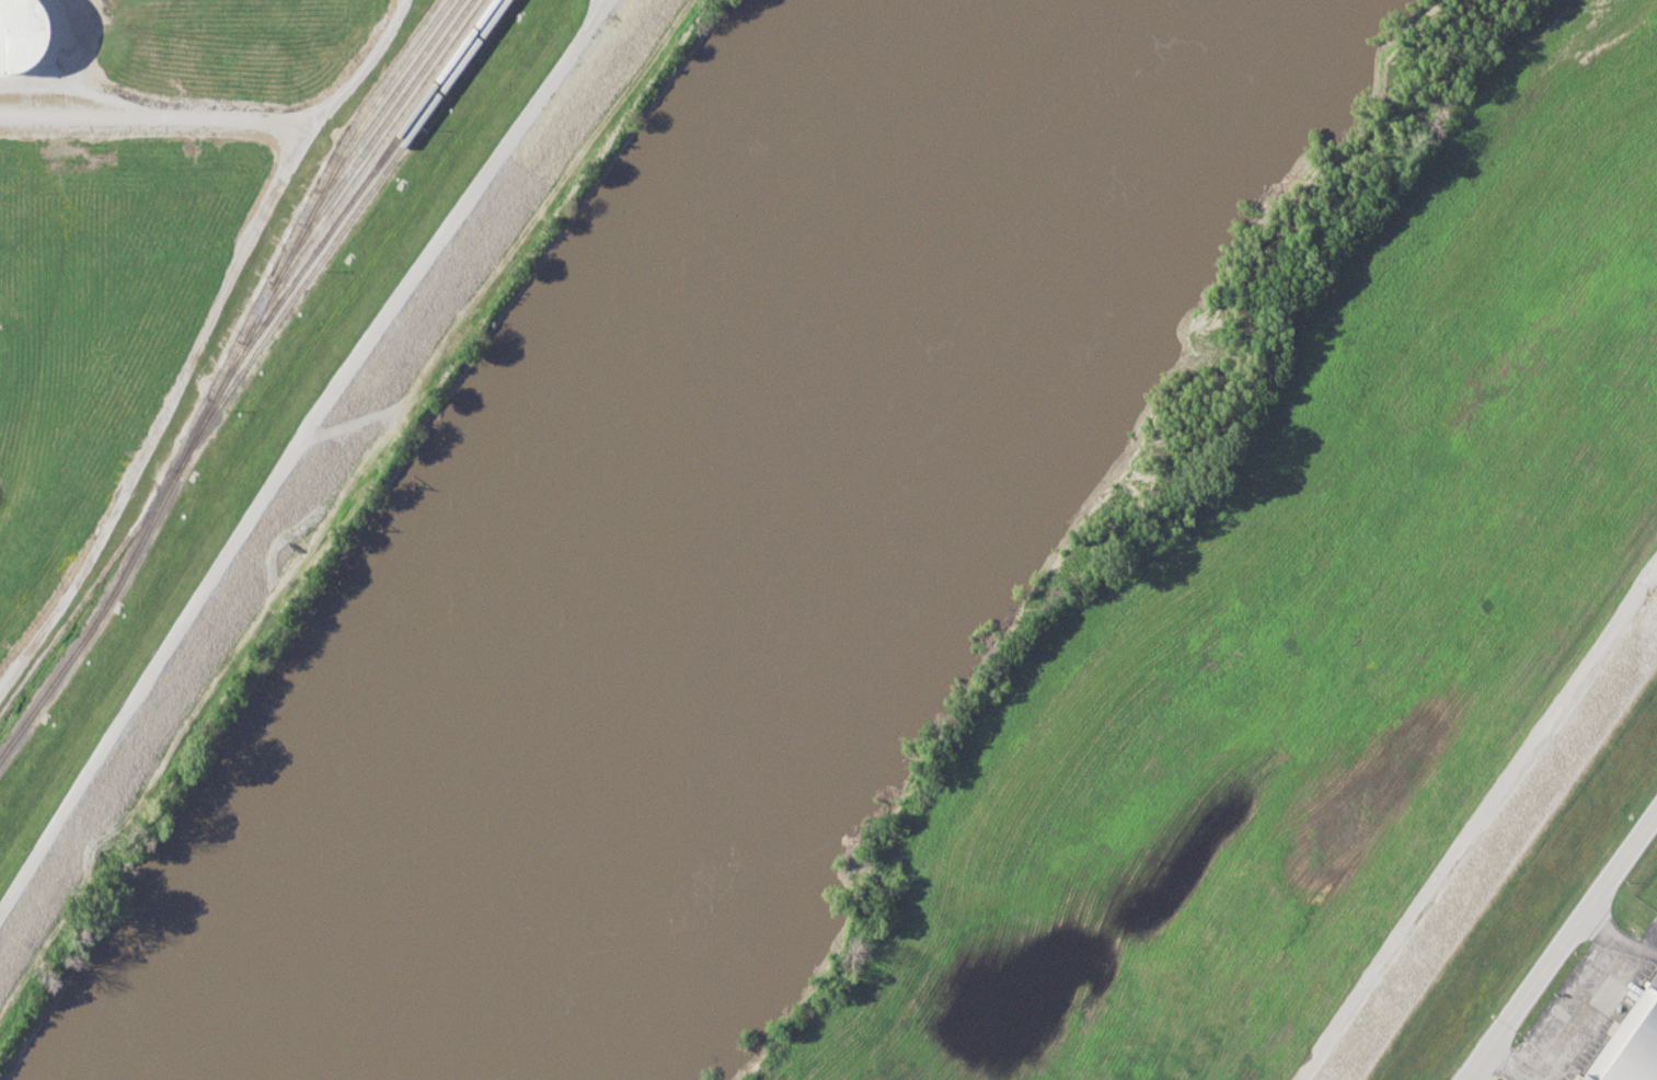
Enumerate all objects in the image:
building: (22, 34)
storage tank: (22, 34)
railway: (382, 107)
road: (233, 122)
railway: (370, 139)
railway: (363, 169)
railway: (353, 197)
railway: (302, 228)
railway: (338, 232)
road: (168, 415)
road: (297, 447)
river: (656, 517)
railway: (96, 618)
road: (1476, 822)
road: (1561, 945)
road: (1612, 989)
road: (1555, 1000)
airport: (1601, 1000)
airport hangar: (1631, 1043)
building: (1631, 1043)
road: (1504, 1066)

